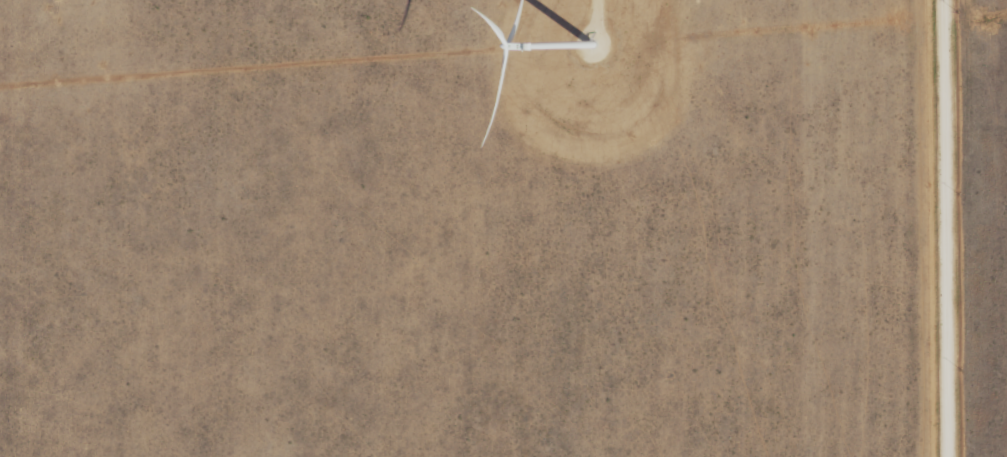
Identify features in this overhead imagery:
wind turbine: (583, 52)
road: (947, 228)

